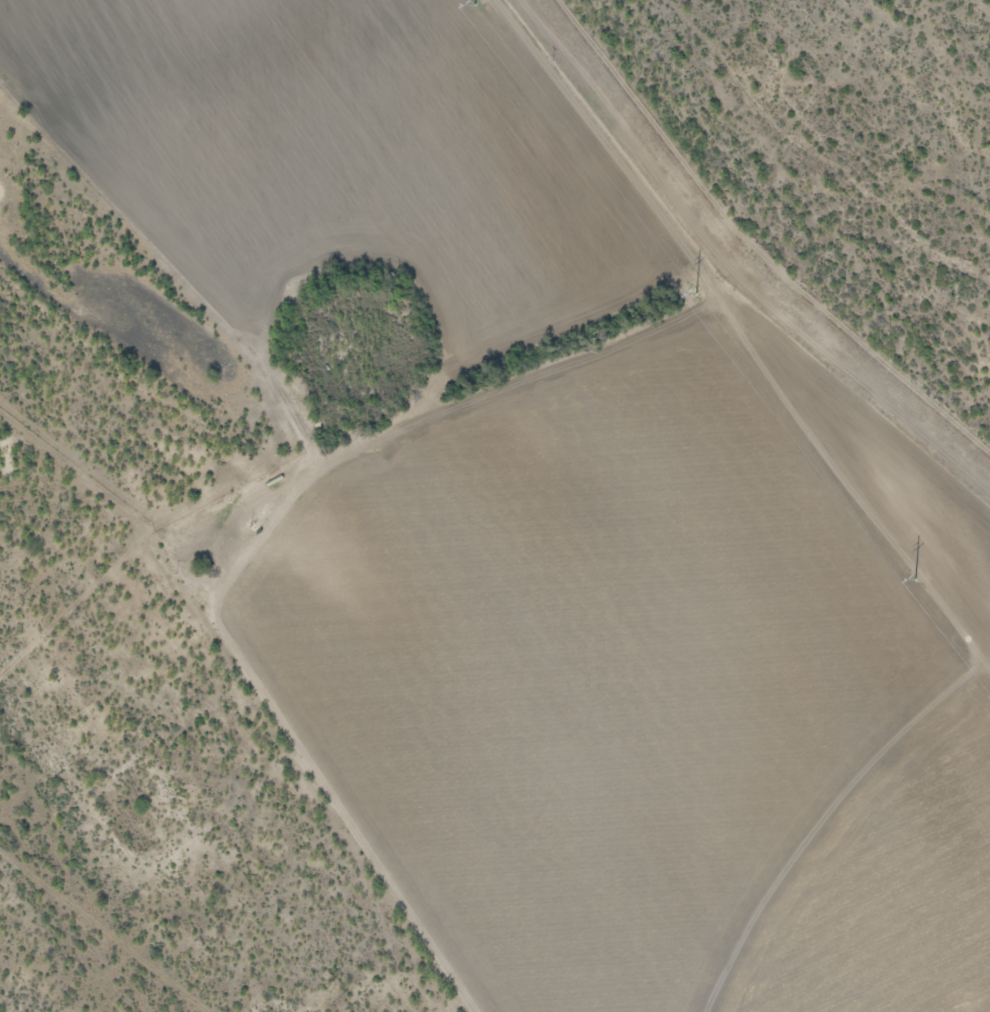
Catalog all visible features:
road: (326, 255)
power tower: (689, 284)
road: (147, 393)
road: (153, 435)
power tower: (908, 571)
road: (315, 759)

